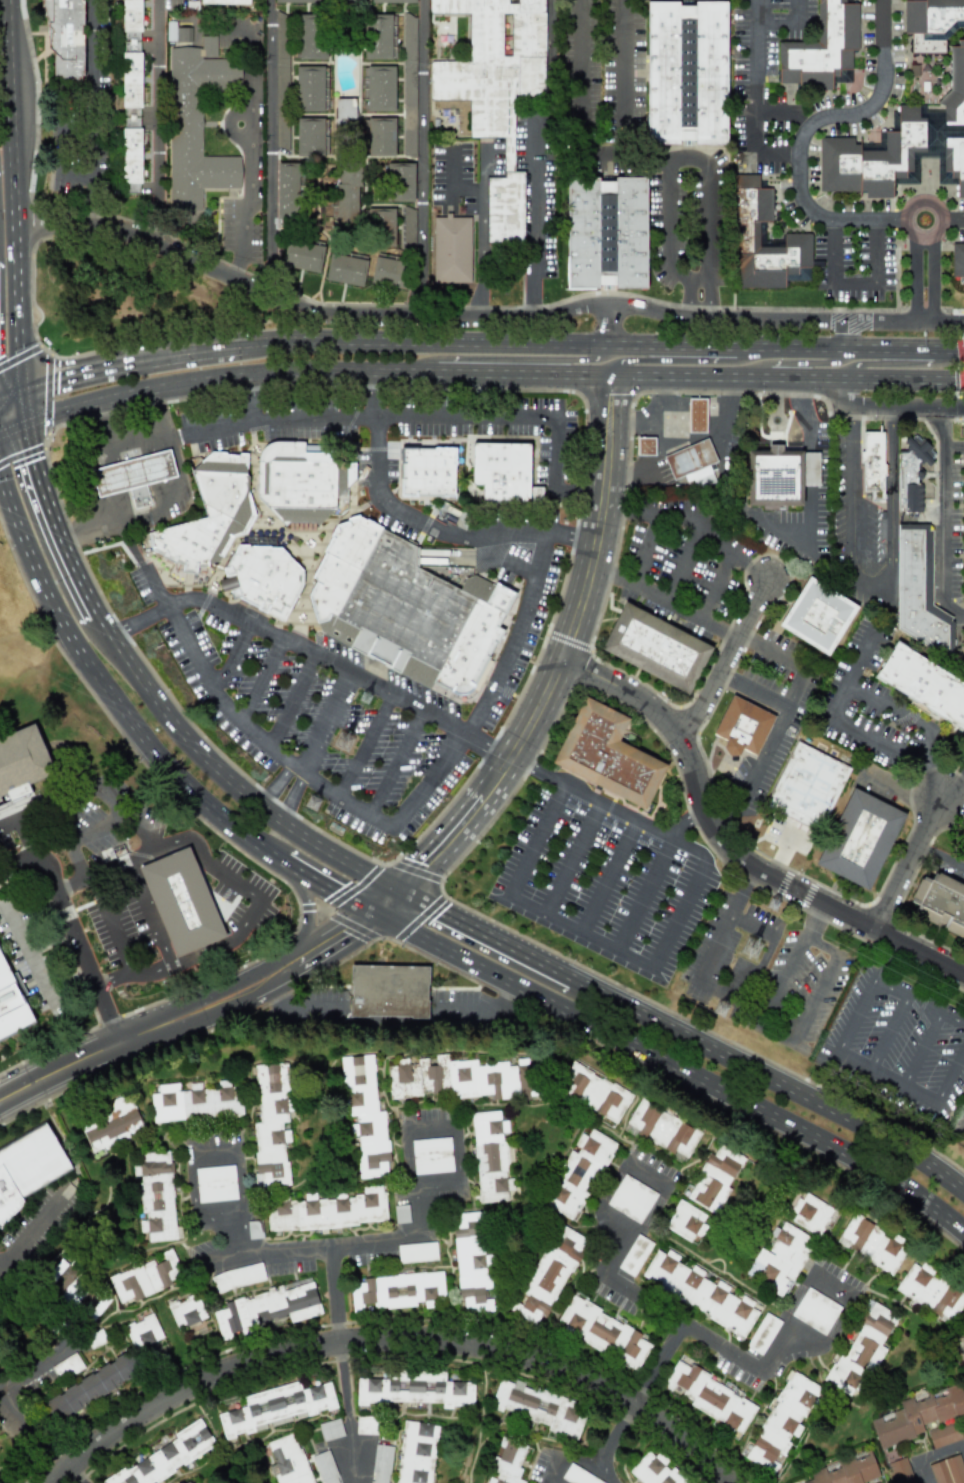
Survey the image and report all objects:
building: (225, 1)
building: (298, 1)
building: (344, 1)
building: (392, 1)
building: (932, 23)
road: (789, 27)
building: (177, 33)
building: (310, 36)
building: (65, 37)
building: (378, 37)
building: (822, 48)
building: (131, 63)
building: (686, 72)
road: (755, 73)
road: (625, 77)
building: (281, 81)
building: (409, 85)
building: (310, 87)
building: (378, 88)
building: (495, 90)
road: (577, 100)
building: (345, 108)
road: (88, 110)
road: (784, 114)
road: (155, 119)
building: (197, 123)
road: (251, 129)
road: (807, 130)
building: (380, 136)
building: (311, 137)
road: (268, 145)
building: (903, 146)
road: (777, 150)
road: (645, 156)
road: (665, 157)
road: (421, 158)
building: (131, 160)
building: (400, 181)
building: (287, 190)
building: (347, 195)
road: (16, 200)
road: (530, 217)
road: (953, 219)
road: (481, 220)
road: (942, 220)
building: (382, 224)
building: (745, 227)
building: (408, 228)
building: (605, 232)
building: (451, 249)
building: (302, 256)
building: (957, 260)
road: (215, 266)
building: (346, 269)
building: (389, 271)
road: (911, 277)
road: (931, 279)
road: (857, 286)
road: (685, 297)
road: (712, 297)
road: (953, 311)
road: (687, 317)
road: (606, 326)
road: (849, 336)
road: (603, 347)
road: (510, 359)
road: (680, 360)
road: (128, 362)
road: (897, 363)
road: (801, 364)
road: (490, 372)
road: (848, 390)
road: (484, 395)
road: (249, 399)
traffic signals: (20, 401)
road: (10, 402)
road: (905, 405)
building: (698, 415)
road: (398, 417)
road: (662, 444)
building: (646, 447)
road: (95, 450)
building: (689, 458)
building: (872, 463)
building: (426, 473)
building: (499, 473)
building: (912, 473)
gas station: (134, 475)
road: (810, 475)
building: (133, 476)
building: (780, 476)
building: (300, 485)
road: (578, 498)
road: (164, 500)
road: (49, 511)
road: (946, 514)
building: (206, 518)
road: (653, 524)
road: (410, 529)
road: (713, 543)
road: (500, 562)
road: (682, 568)
building: (336, 576)
building: (262, 578)
road: (716, 589)
road: (883, 591)
building: (919, 591)
road: (663, 603)
building: (817, 615)
road: (153, 618)
building: (420, 621)
road: (595, 625)
road: (207, 631)
road: (517, 638)
road: (568, 641)
building: (655, 647)
road: (562, 656)
road: (726, 658)
road: (232, 659)
building: (962, 667)
road: (852, 671)
road: (351, 677)
road: (260, 683)
building: (924, 684)
parking lot: (361, 688)
road: (792, 689)
road: (107, 691)
power tower: (367, 697)
road: (292, 703)
road: (324, 722)
building: (741, 726)
power tower: (351, 742)
road: (925, 743)
road: (266, 744)
road: (365, 746)
building: (606, 754)
road: (395, 763)
road: (754, 767)
building: (21, 768)
road: (223, 777)
road: (929, 777)
road: (952, 784)
road: (94, 785)
road: (276, 785)
building: (806, 786)
road: (898, 791)
road: (291, 797)
power tower: (319, 803)
road: (685, 821)
road: (104, 823)
road: (488, 824)
road: (32, 835)
building: (860, 837)
road: (732, 845)
road: (782, 853)
road: (571, 857)
building: (108, 858)
road: (144, 858)
road: (940, 858)
road: (76, 859)
road: (909, 862)
road: (416, 870)
road: (608, 876)
road: (95, 878)
road: (323, 889)
road: (257, 895)
road: (645, 895)
road: (381, 902)
building: (182, 904)
building: (940, 904)
power tower: (775, 905)
road: (307, 911)
road: (151, 912)
road: (419, 918)
road: (814, 919)
road: (72, 926)
road: (352, 926)
road: (110, 927)
road: (482, 933)
road: (665, 944)
road: (27, 948)
power tower: (758, 950)
road: (885, 957)
road: (133, 974)
road: (783, 977)
road: (41, 978)
road: (69, 980)
building: (388, 991)
road: (717, 991)
road: (813, 1002)
building: (10, 1004)
power tower: (725, 1011)
road: (188, 1014)
road: (891, 1031)
road: (839, 1046)
road: (924, 1048)
road: (670, 1067)
road: (770, 1078)
building: (460, 1079)
building: (595, 1093)
building: (195, 1102)
building: (365, 1115)
building: (110, 1125)
building: (271, 1125)
road: (429, 1128)
building: (662, 1130)
road: (212, 1155)
building: (431, 1155)
road: (410, 1156)
building: (490, 1157)
building: (28, 1169)
road: (457, 1171)
building: (578, 1174)
road: (647, 1175)
building: (714, 1177)
building: (215, 1183)
road: (614, 1184)
road: (239, 1185)
building: (156, 1196)
road: (192, 1199)
building: (631, 1199)
road: (418, 1209)
road: (652, 1209)
building: (328, 1211)
building: (810, 1214)
road: (619, 1218)
building: (686, 1221)
road: (30, 1230)
road: (235, 1235)
building: (871, 1243)
road: (313, 1245)
road: (622, 1253)
building: (634, 1255)
building: (781, 1258)
building: (471, 1262)
road: (0, 1269)
building: (548, 1276)
building: (146, 1277)
building: (238, 1277)
road: (830, 1288)
building: (397, 1291)
road: (335, 1292)
building: (698, 1292)
building: (931, 1292)
road: (798, 1298)
building: (267, 1308)
building: (186, 1311)
building: (815, 1311)
road: (835, 1322)
road: (683, 1324)
building: (602, 1332)
road: (802, 1332)
building: (143, 1333)
building: (763, 1333)
road: (392, 1337)
building: (95, 1338)
road: (777, 1348)
building: (861, 1349)
road: (656, 1361)
building: (67, 1366)
building: (90, 1387)
building: (415, 1389)
road: (6, 1393)
building: (710, 1397)
building: (540, 1406)
building: (276, 1407)
road: (348, 1411)
building: (917, 1415)
building: (782, 1420)
building: (366, 1425)
building: (330, 1429)
road: (614, 1430)
building: (944, 1435)
building: (416, 1452)
road: (941, 1452)
building: (167, 1457)
road: (577, 1457)
building: (289, 1459)
building: (507, 1462)
building: (380, 1464)
building: (325, 1467)
road: (555, 1470)
building: (654, 1470)
building: (846, 1470)
building: (948, 1470)
road: (605, 1471)
building: (900, 1471)
road: (922, 1472)
road: (70, 1476)
building: (188, 1481)

